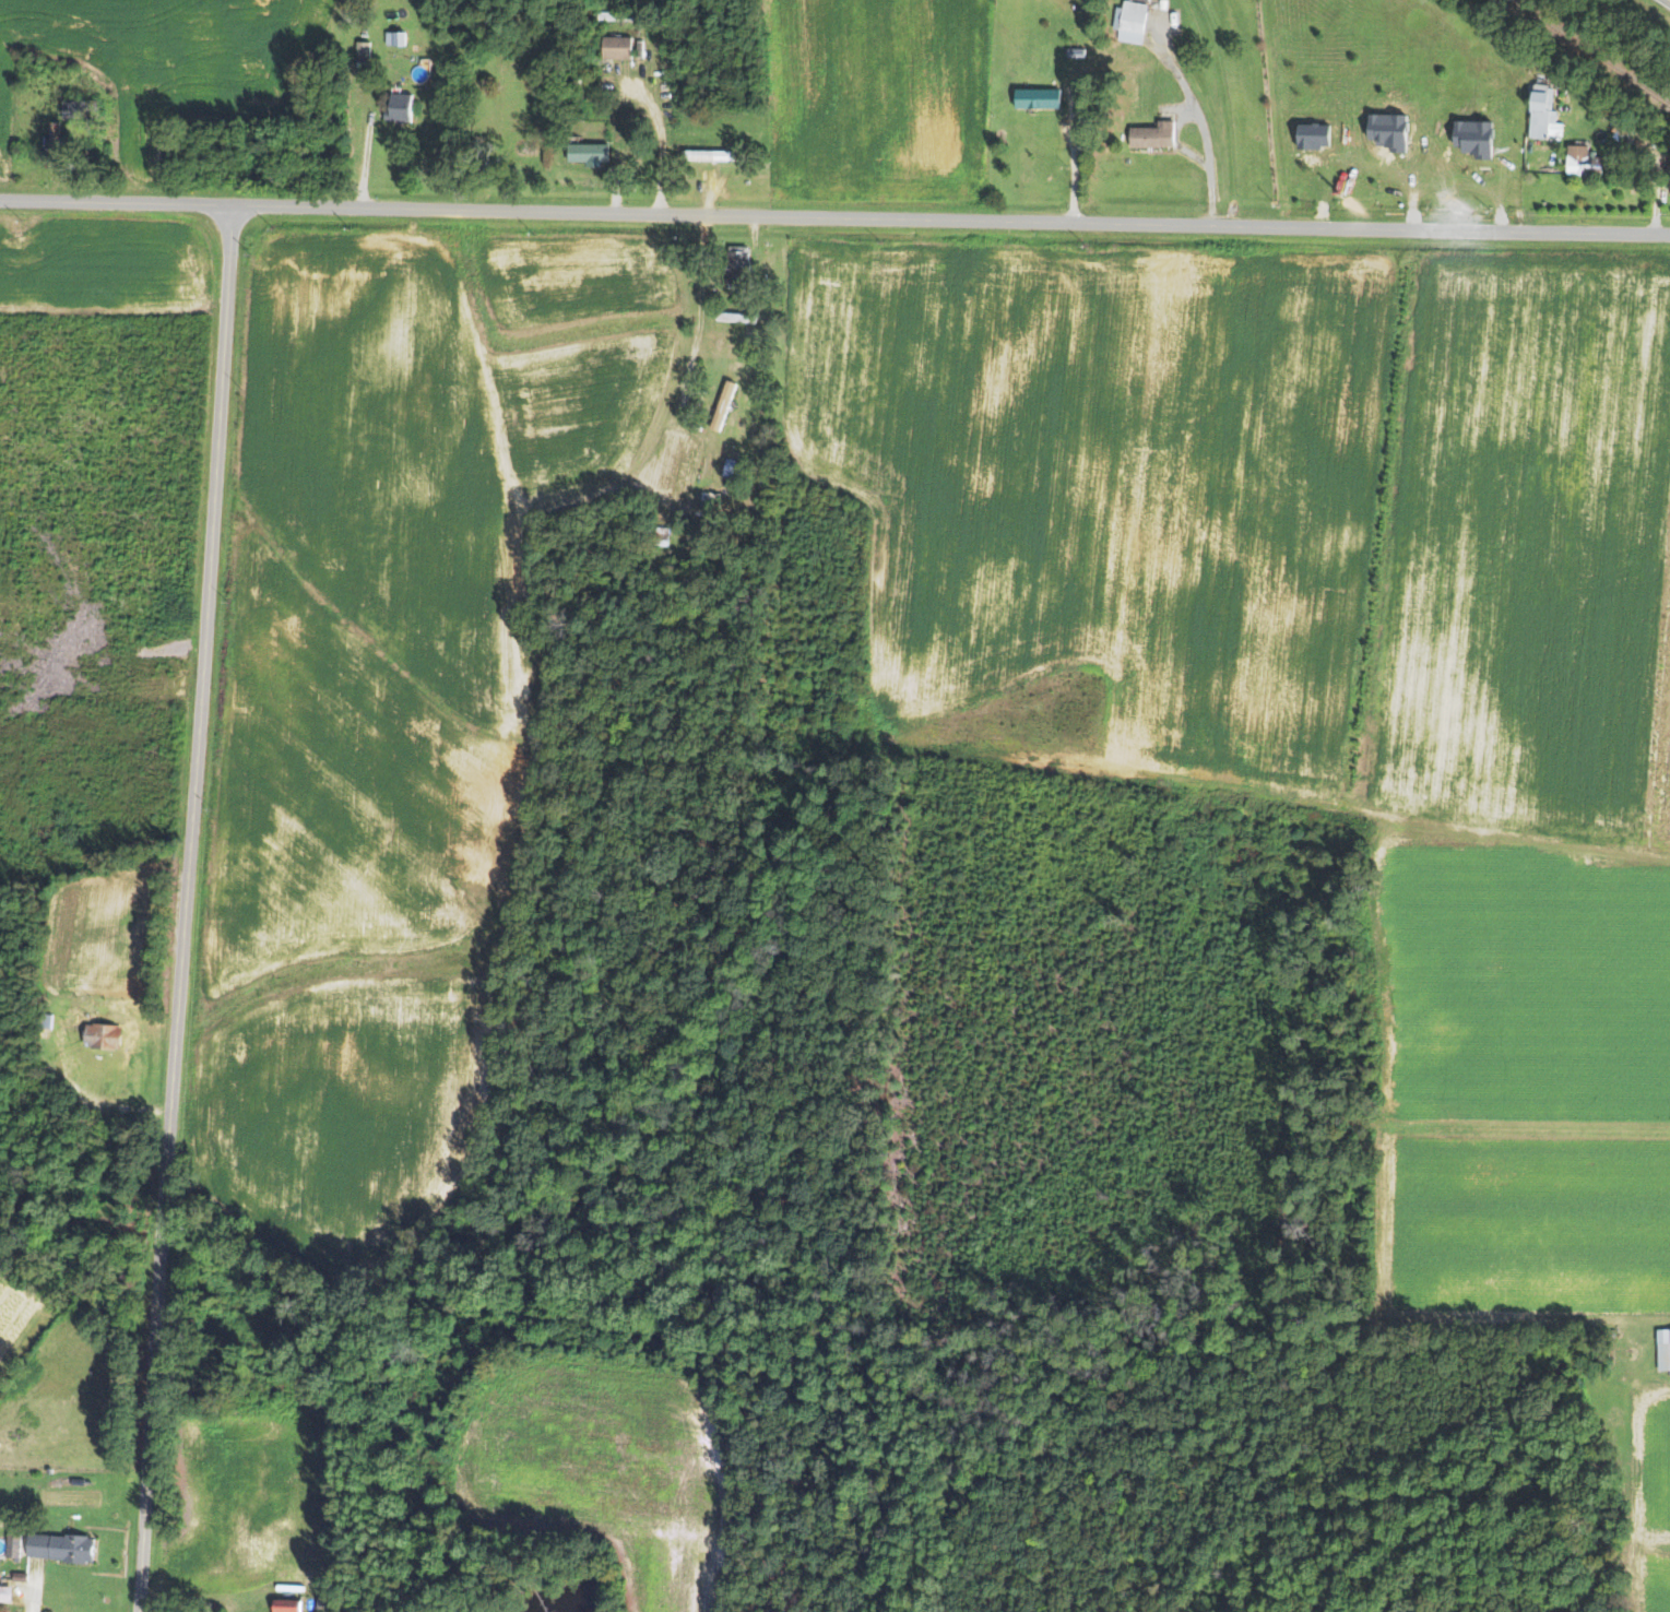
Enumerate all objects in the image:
road: (1669, 0)
building: (1133, 21)
building: (399, 37)
building: (623, 46)
railway: (1590, 50)
building: (1080, 51)
building: (365, 54)
building: (1042, 97)
building: (404, 107)
building: (84, 108)
building: (1539, 115)
building: (1158, 134)
road: (1204, 134)
building: (57, 142)
building: (593, 152)
building: (713, 154)
building: (1578, 161)
road: (115, 201)
road: (949, 223)
building: (741, 265)
building: (741, 317)
building: (726, 404)
road: (1343, 808)
road: (182, 909)
building: (110, 1036)
building: (1662, 1354)
building: (66, 1546)
building: (8, 1592)
road: (34, 1595)
building: (293, 1604)

